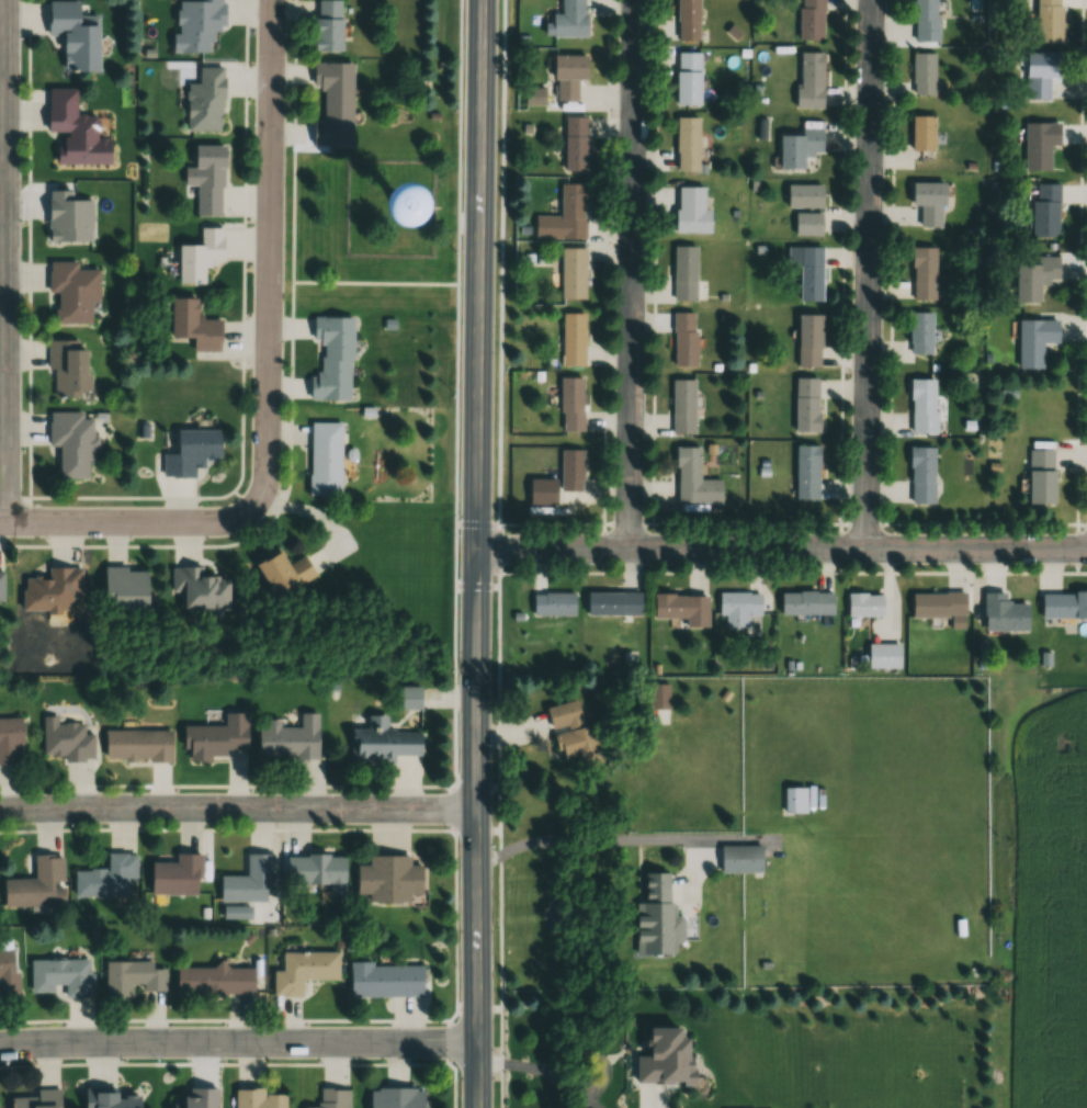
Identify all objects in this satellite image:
building: (688, 20)
building: (811, 20)
building: (925, 21)
building: (1048, 21)
building: (559, 23)
building: (195, 24)
building: (326, 25)
building: (72, 36)
building: (924, 72)
building: (1042, 74)
building: (688, 79)
building: (809, 79)
building: (561, 81)
building: (526, 99)
building: (205, 101)
building: (332, 104)
street lamp: (457, 105)
building: (77, 131)
building: (922, 133)
road: (287, 143)
road: (452, 144)
building: (687, 144)
building: (1039, 145)
building: (799, 147)
building: (567, 150)
building: (206, 179)
building: (803, 195)
building: (929, 203)
building: (1045, 210)
building: (691, 211)
building: (377, 216)
building: (68, 217)
building: (557, 222)
road: (236, 239)
water tower: (366, 240)
street lamp: (457, 250)
building: (199, 256)
road: (268, 257)
road: (4, 261)
building: (684, 272)
road: (632, 273)
building: (811, 273)
building: (924, 273)
road: (868, 274)
building: (1034, 278)
building: (566, 279)
building: (72, 292)
building: (193, 326)
building: (921, 332)
building: (684, 338)
building: (808, 340)
building: (1034, 341)
building: (566, 342)
building: (332, 359)
building: (68, 371)
building: (806, 405)
building: (683, 406)
building: (922, 407)
building: (566, 410)
building: (72, 442)
building: (191, 452)
building: (325, 459)
building: (806, 472)
building: (565, 474)
building: (921, 475)
building: (1040, 476)
building: (694, 478)
building: (535, 495)
road: (122, 500)
road: (126, 523)
street lamp: (454, 523)
road: (566, 523)
road: (253, 533)
road: (782, 547)
road: (494, 553)
road: (476, 554)
building: (282, 572)
road: (790, 575)
building: (1, 585)
building: (123, 587)
building: (199, 587)
building: (52, 590)
building: (547, 607)
building: (605, 608)
building: (734, 608)
building: (800, 609)
building: (930, 609)
building: (857, 610)
building: (1058, 611)
building: (675, 613)
building: (511, 619)
building: (995, 619)
building: (875, 660)
road: (442, 700)
building: (652, 701)
building: (399, 702)
road: (505, 734)
building: (215, 737)
building: (10, 739)
building: (65, 739)
building: (288, 739)
building: (565, 739)
building: (377, 744)
building: (137, 745)
street lamp: (454, 777)
building: (794, 799)
road: (236, 807)
road: (448, 817)
road: (581, 836)
road: (716, 836)
building: (734, 863)
building: (316, 871)
building: (175, 874)
building: (106, 878)
building: (247, 880)
building: (382, 880)
building: (37, 884)
road: (694, 884)
building: (553, 907)
building: (648, 923)
building: (303, 971)
building: (8, 972)
building: (61, 976)
building: (133, 977)
building: (214, 981)
building: (378, 984)
road: (238, 1042)
street lamp: (455, 1062)
building: (653, 1064)
road: (544, 1071)
building: (196, 1098)
building: (258, 1098)
building: (332, 1098)
building: (38, 1099)
building: (111, 1099)
building: (388, 1099)
road: (653, 1101)

